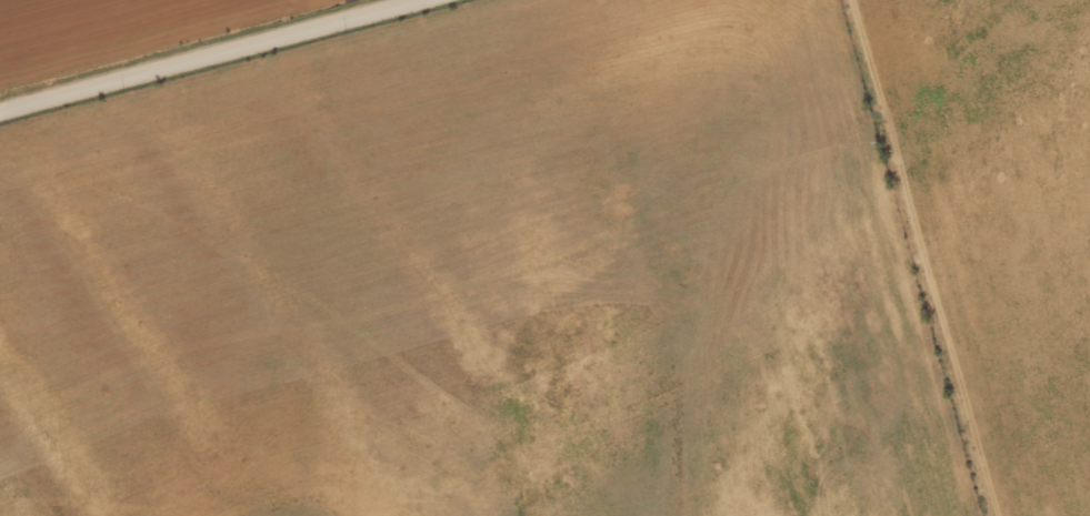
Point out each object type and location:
road: (251, 65)

